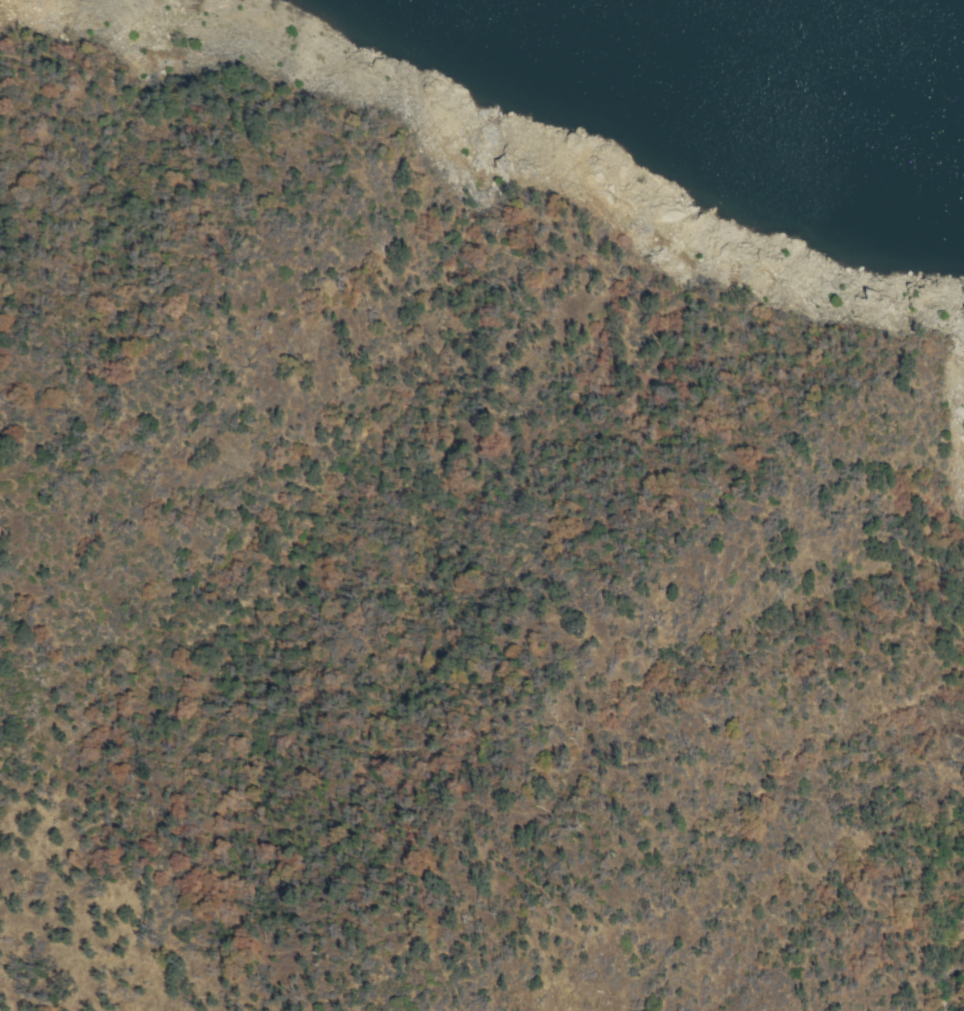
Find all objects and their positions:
river: (792, 85)

